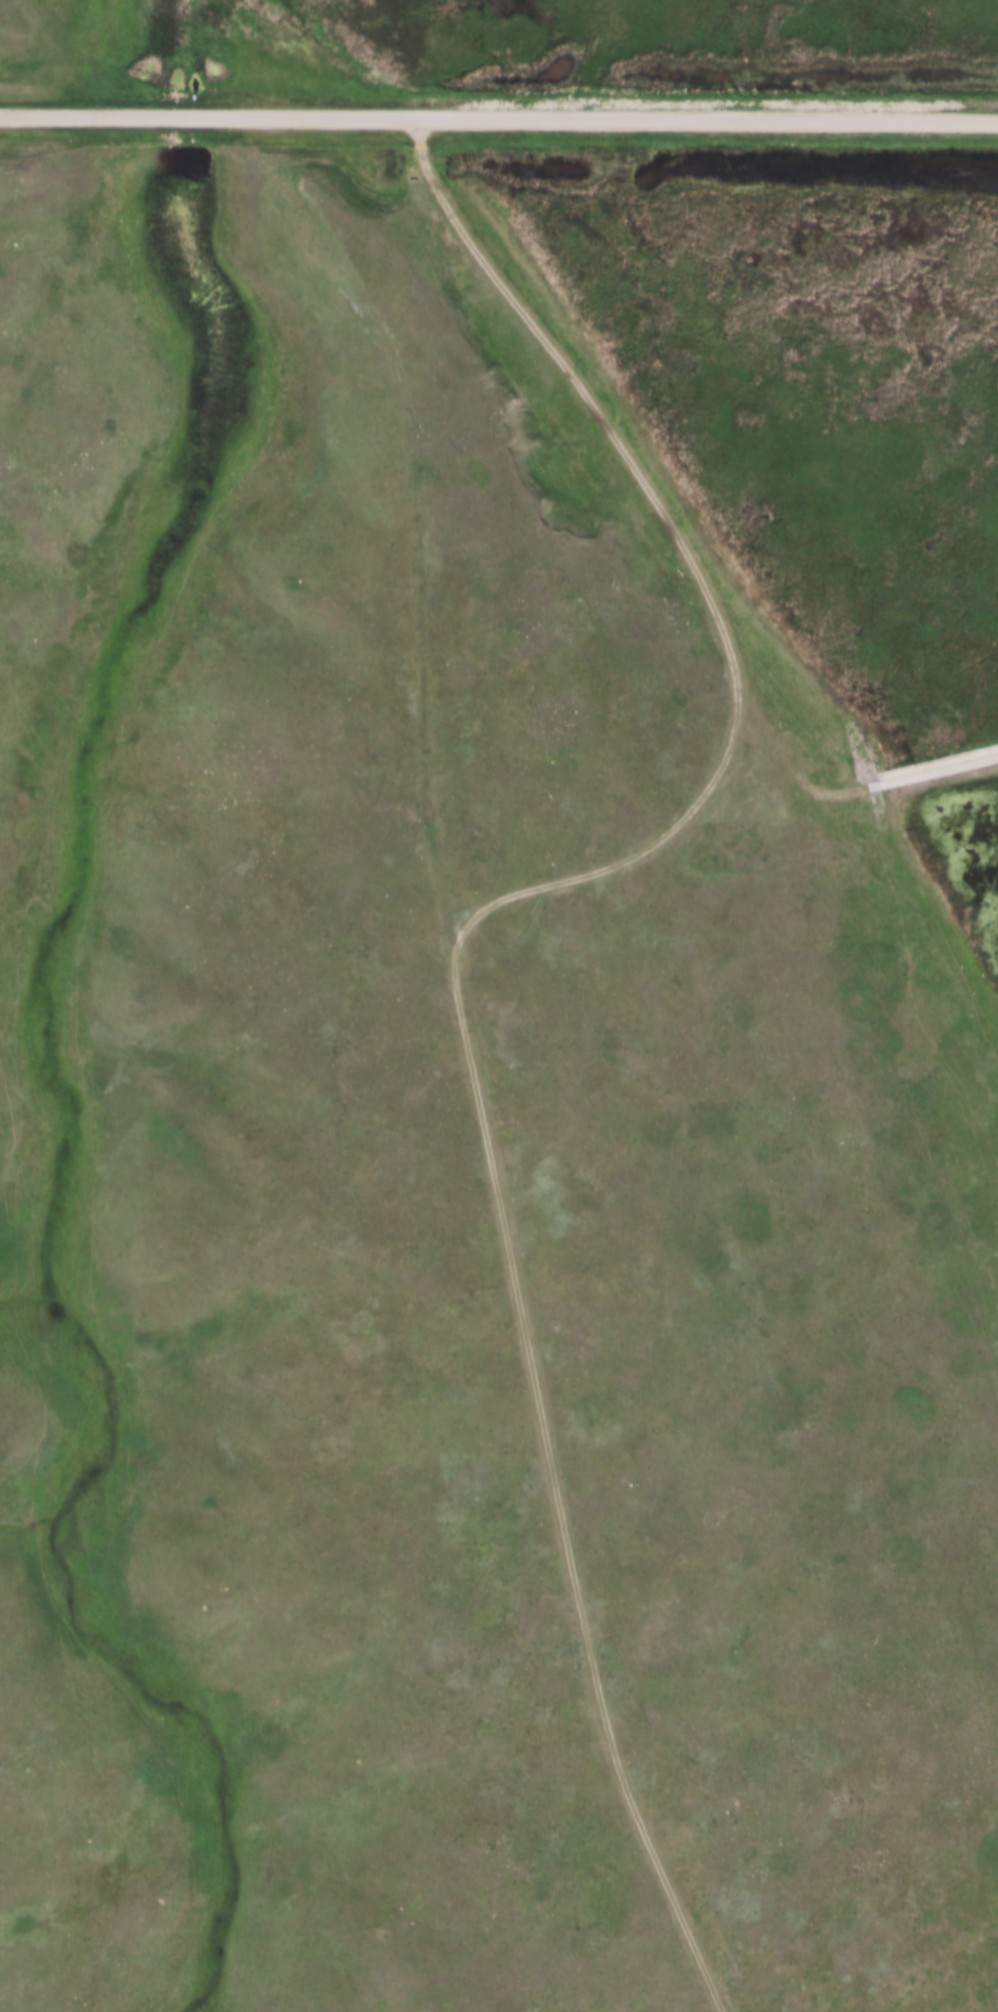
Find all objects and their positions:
road: (499, 112)
dam: (938, 778)
road: (841, 784)
road: (456, 954)

